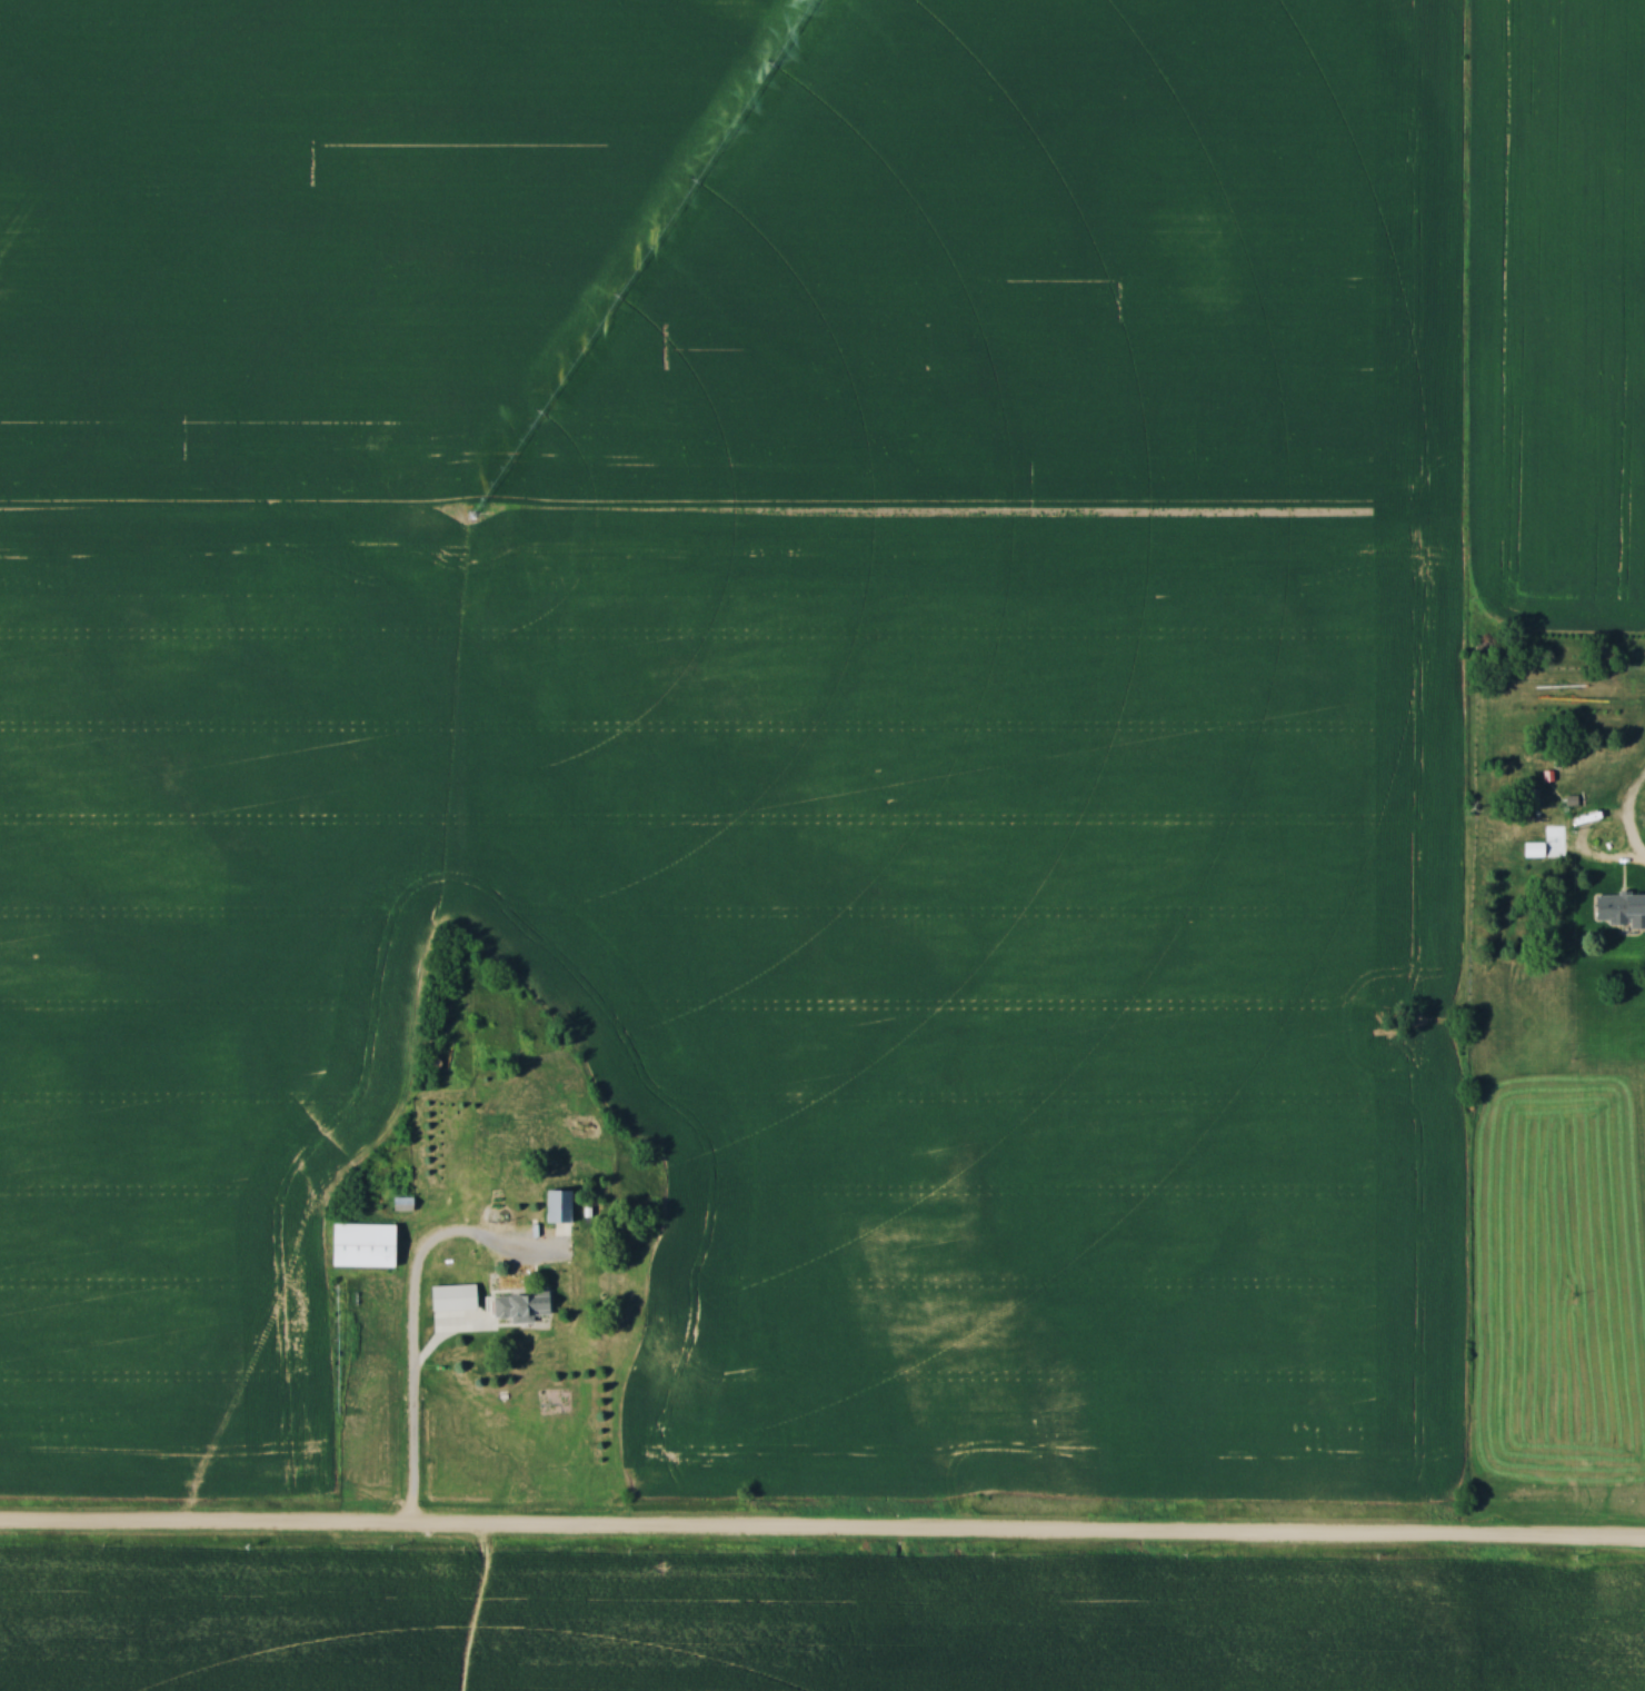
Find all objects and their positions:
building: (1535, 848)
building: (1619, 907)
building: (560, 1204)
building: (369, 1244)
building: (485, 1254)
building: (450, 1296)
building: (532, 1306)
road: (411, 1395)
road: (821, 1535)

